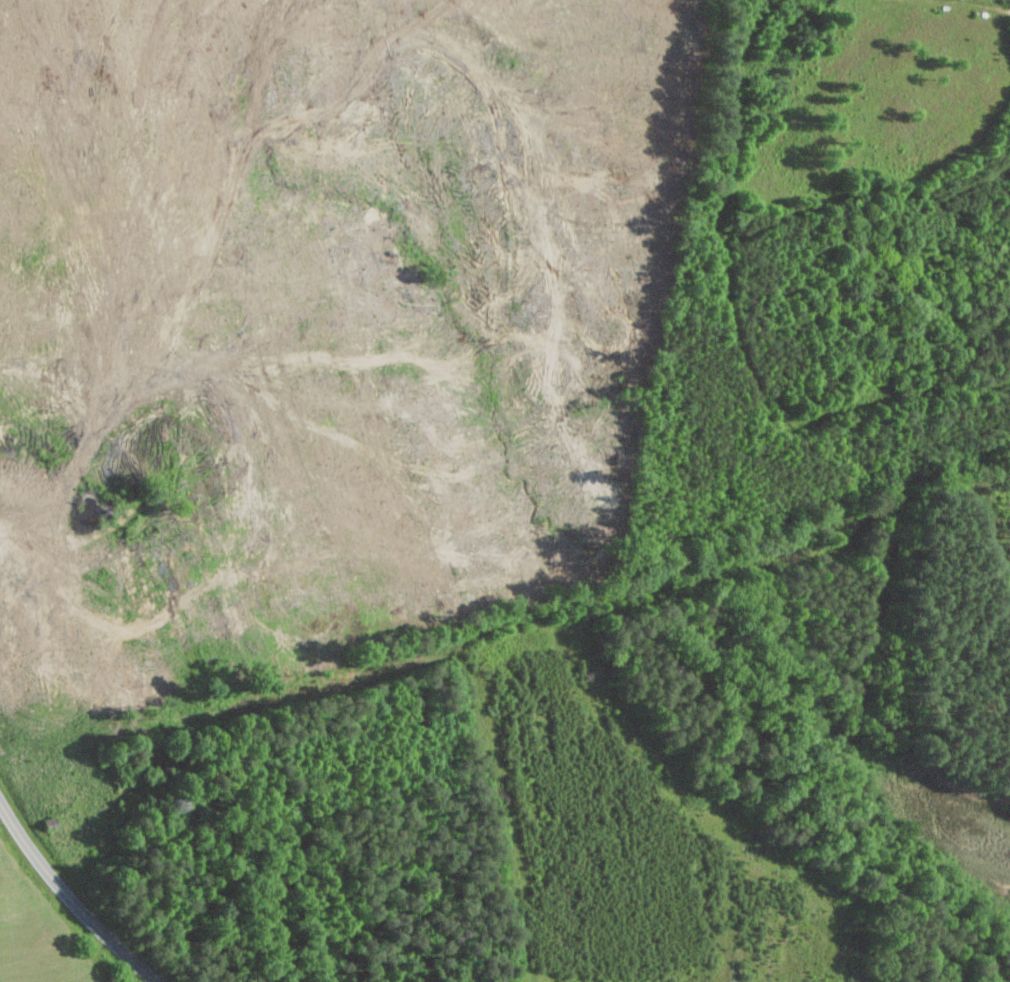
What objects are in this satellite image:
road: (70, 893)

